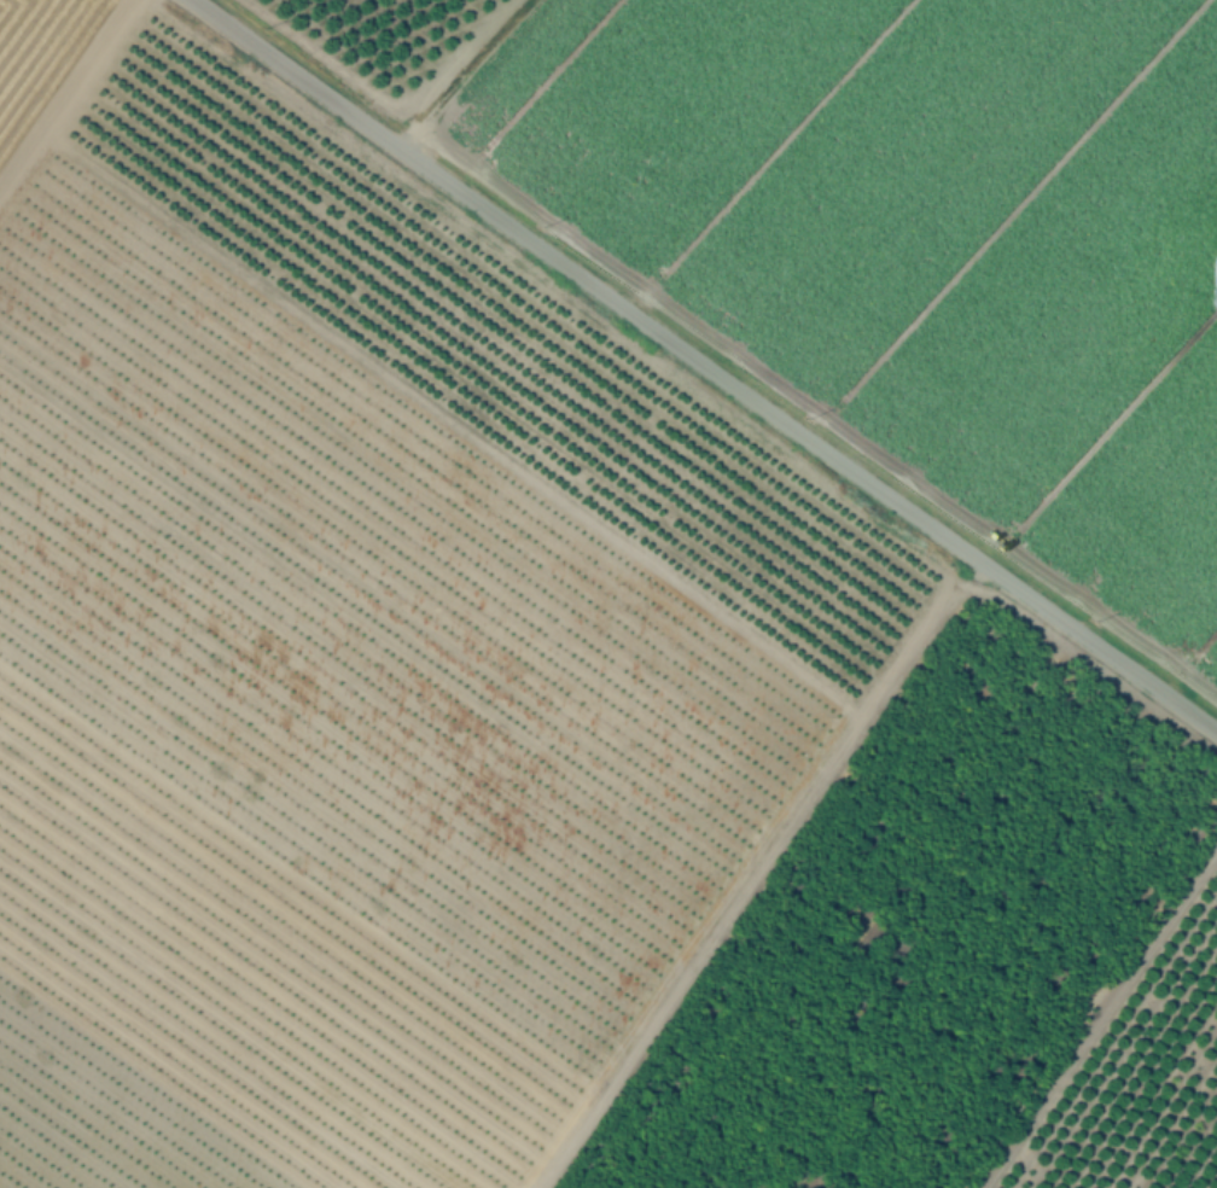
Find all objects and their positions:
road: (704, 365)
crop: (530, 522)

